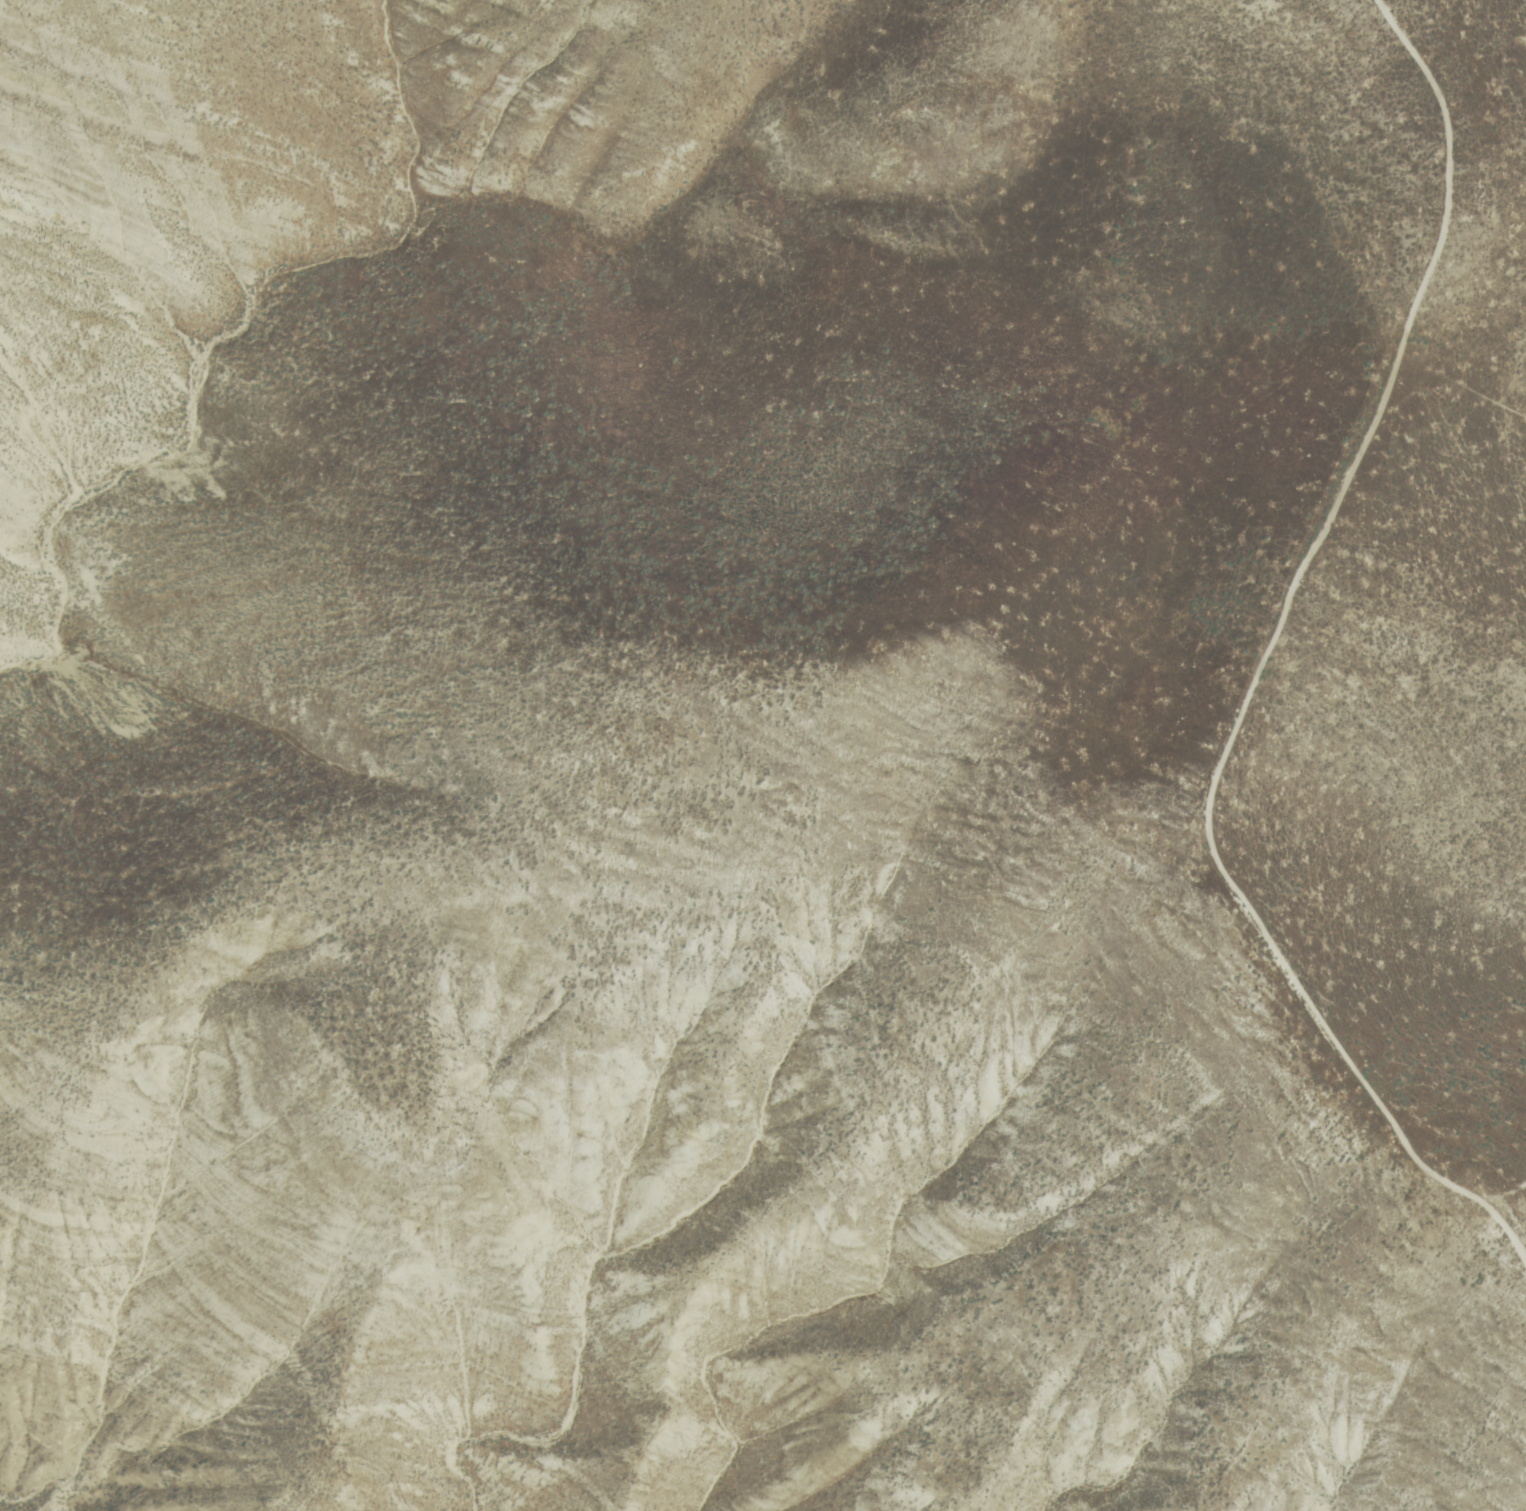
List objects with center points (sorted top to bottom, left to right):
road: (1262, 664)

